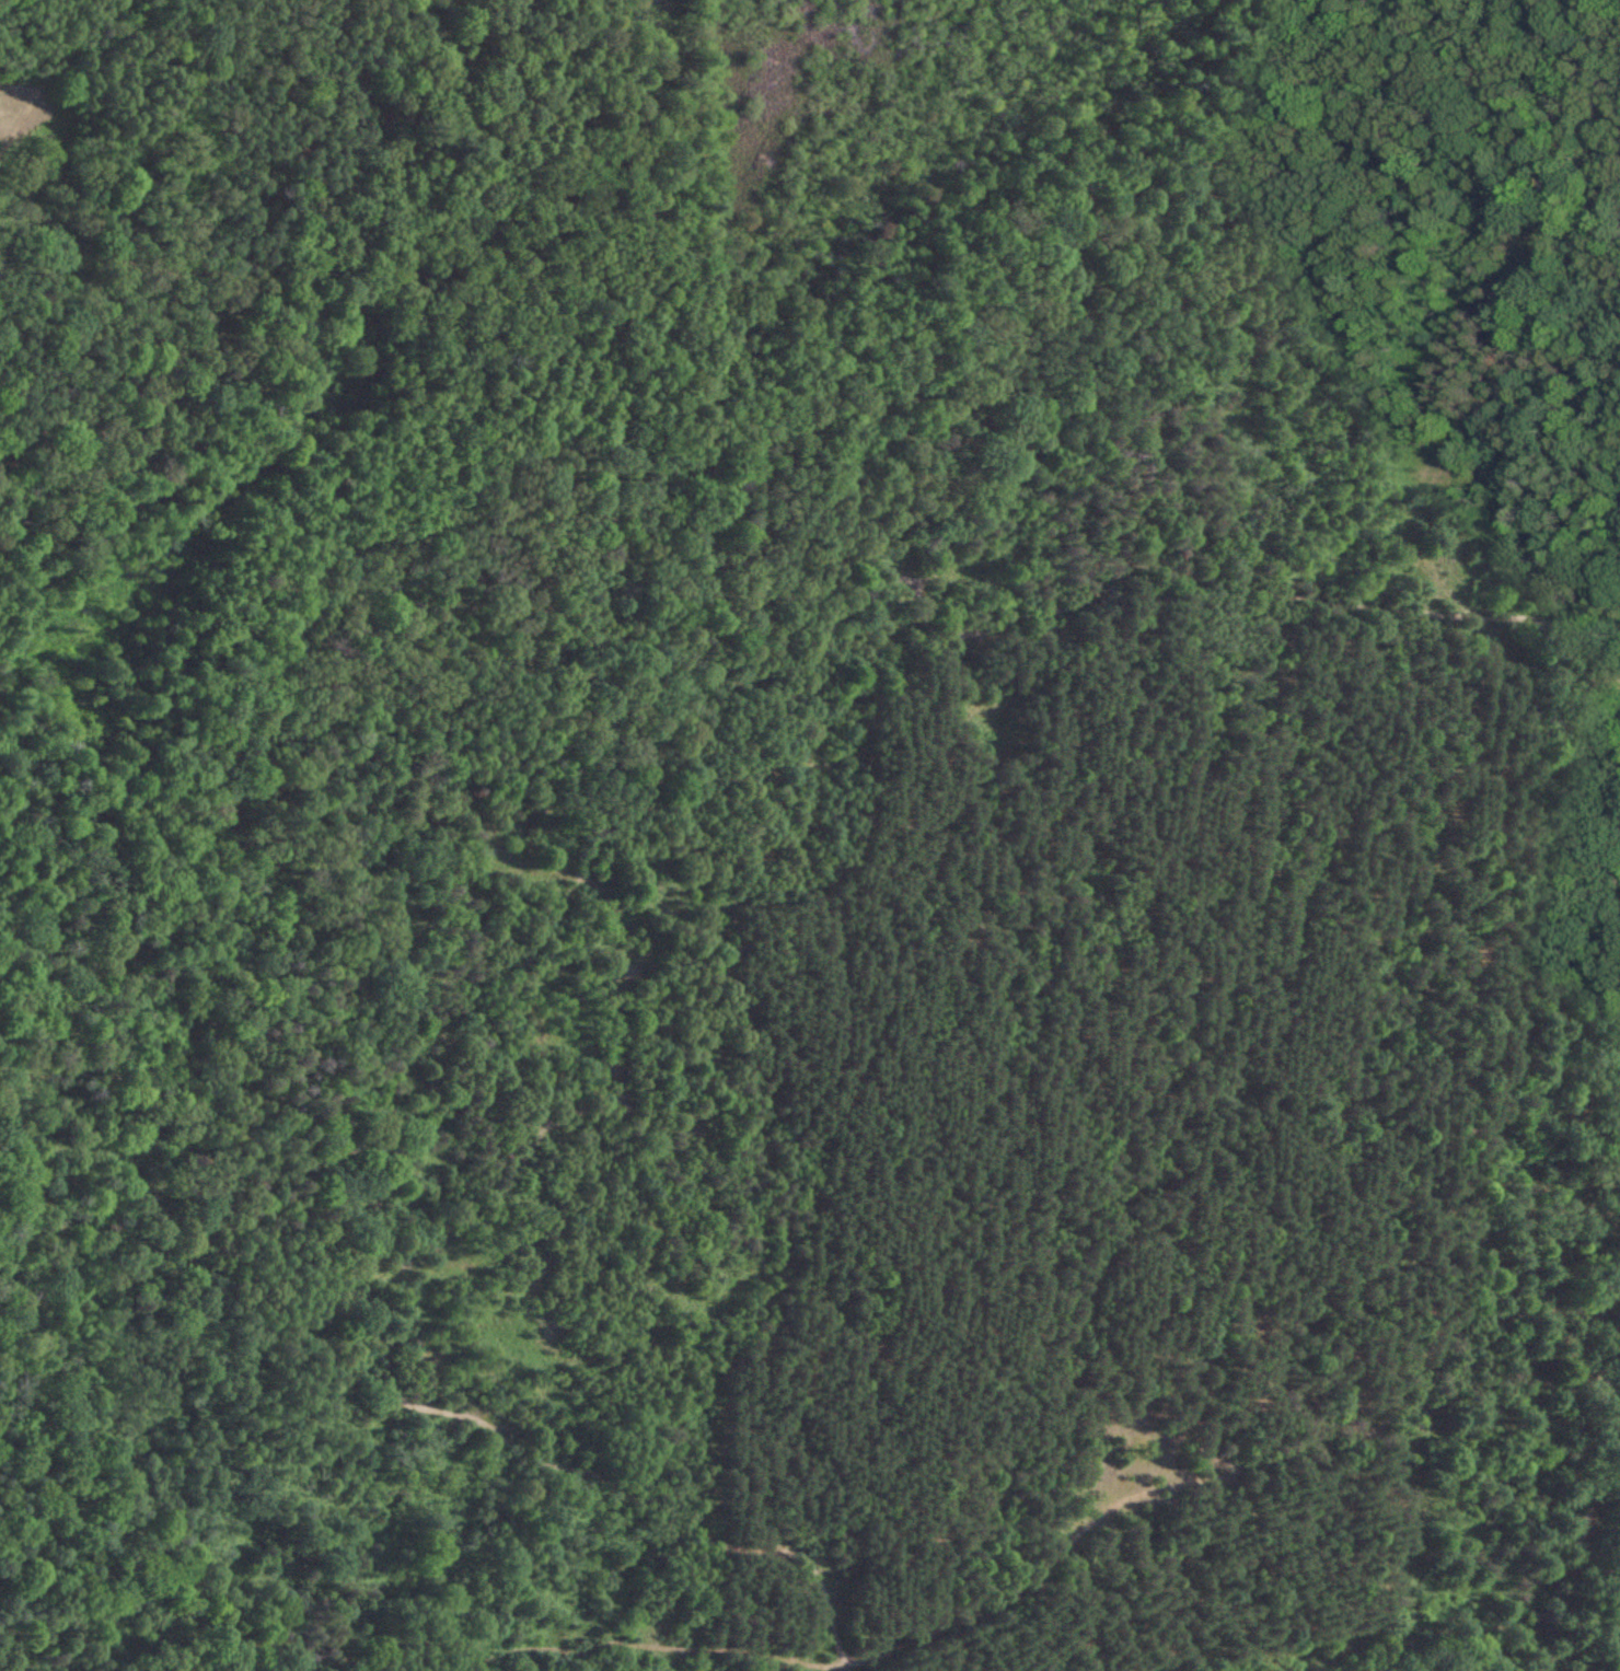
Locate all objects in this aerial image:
road: (1248, 579)
road: (617, 799)
road: (1613, 889)
road: (1079, 1521)
road: (483, 1653)
road: (464, 1667)

